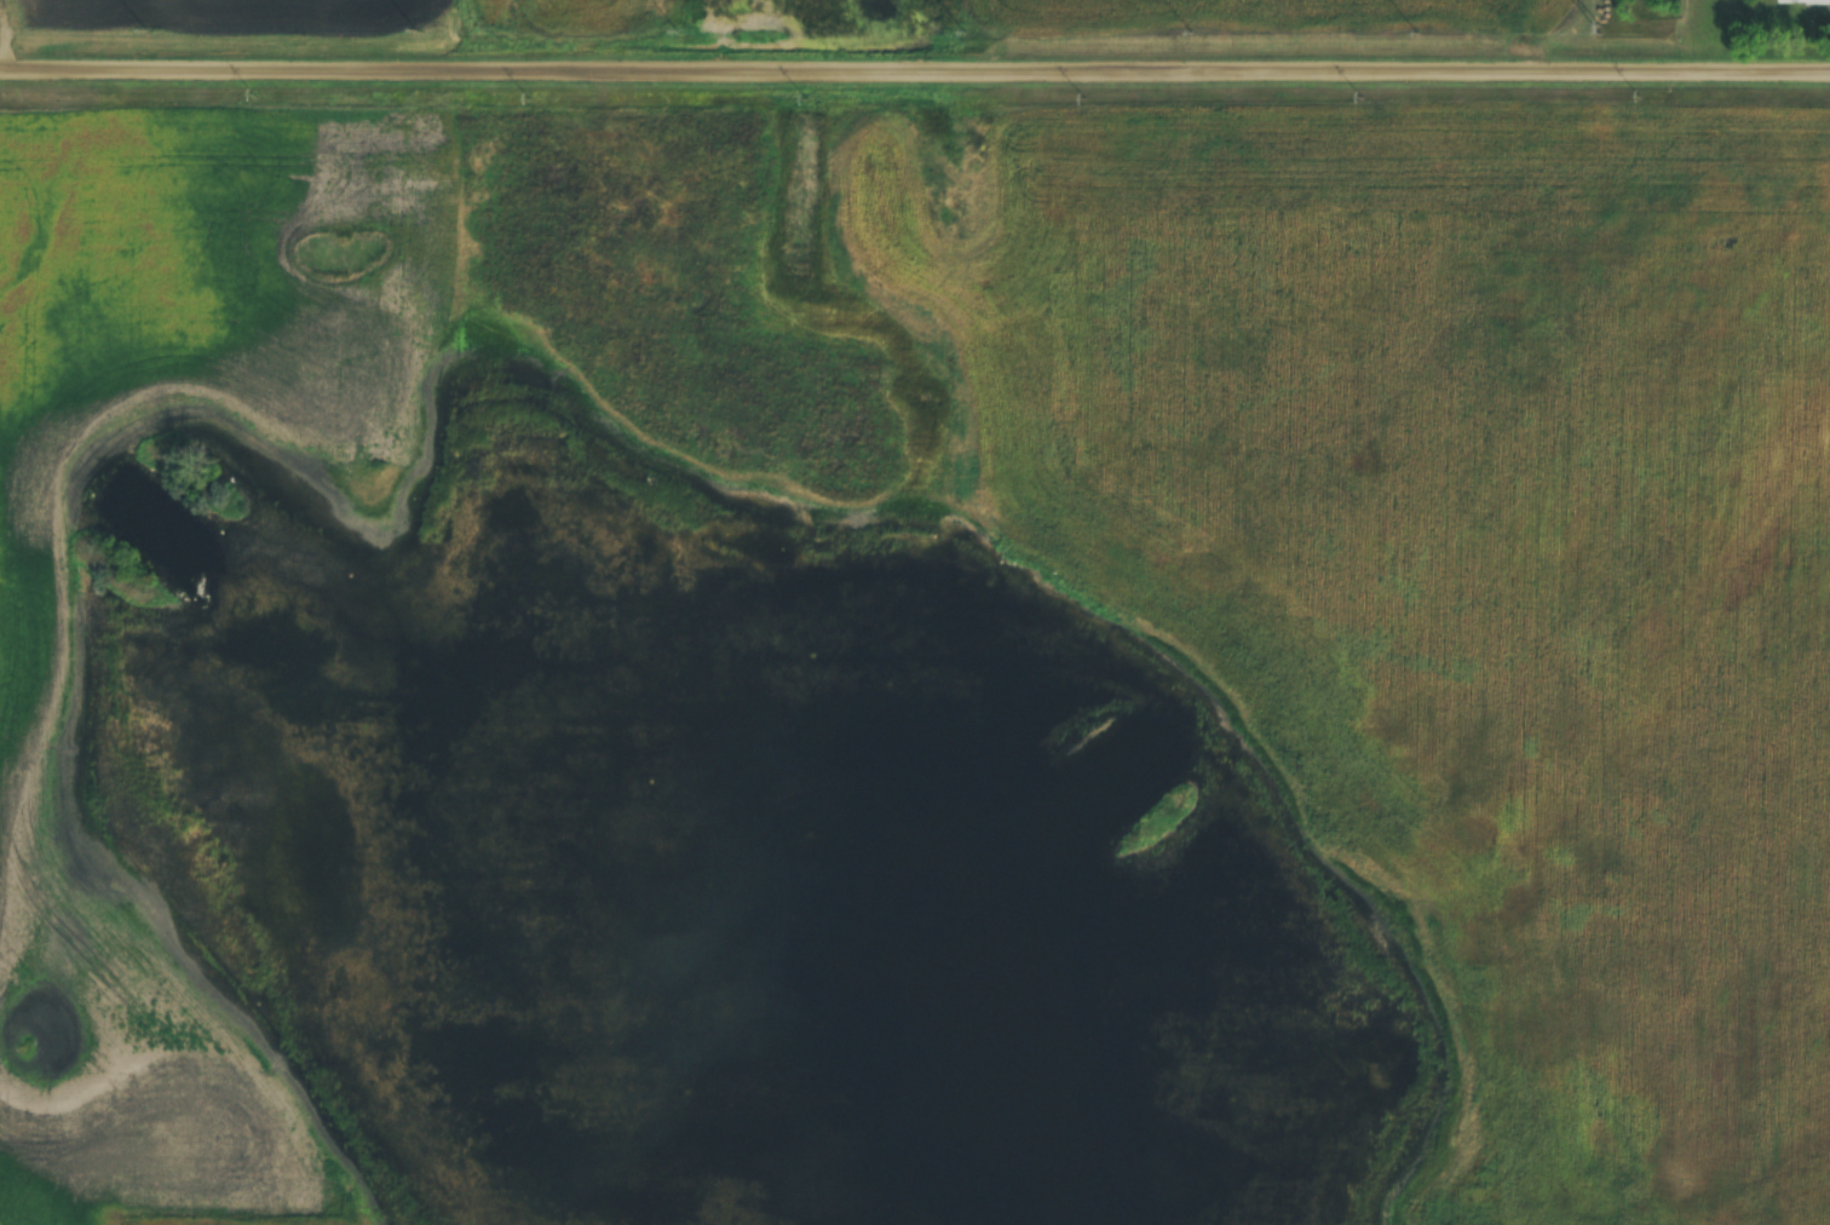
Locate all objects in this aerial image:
building: (1803, 1)
road: (915, 69)

